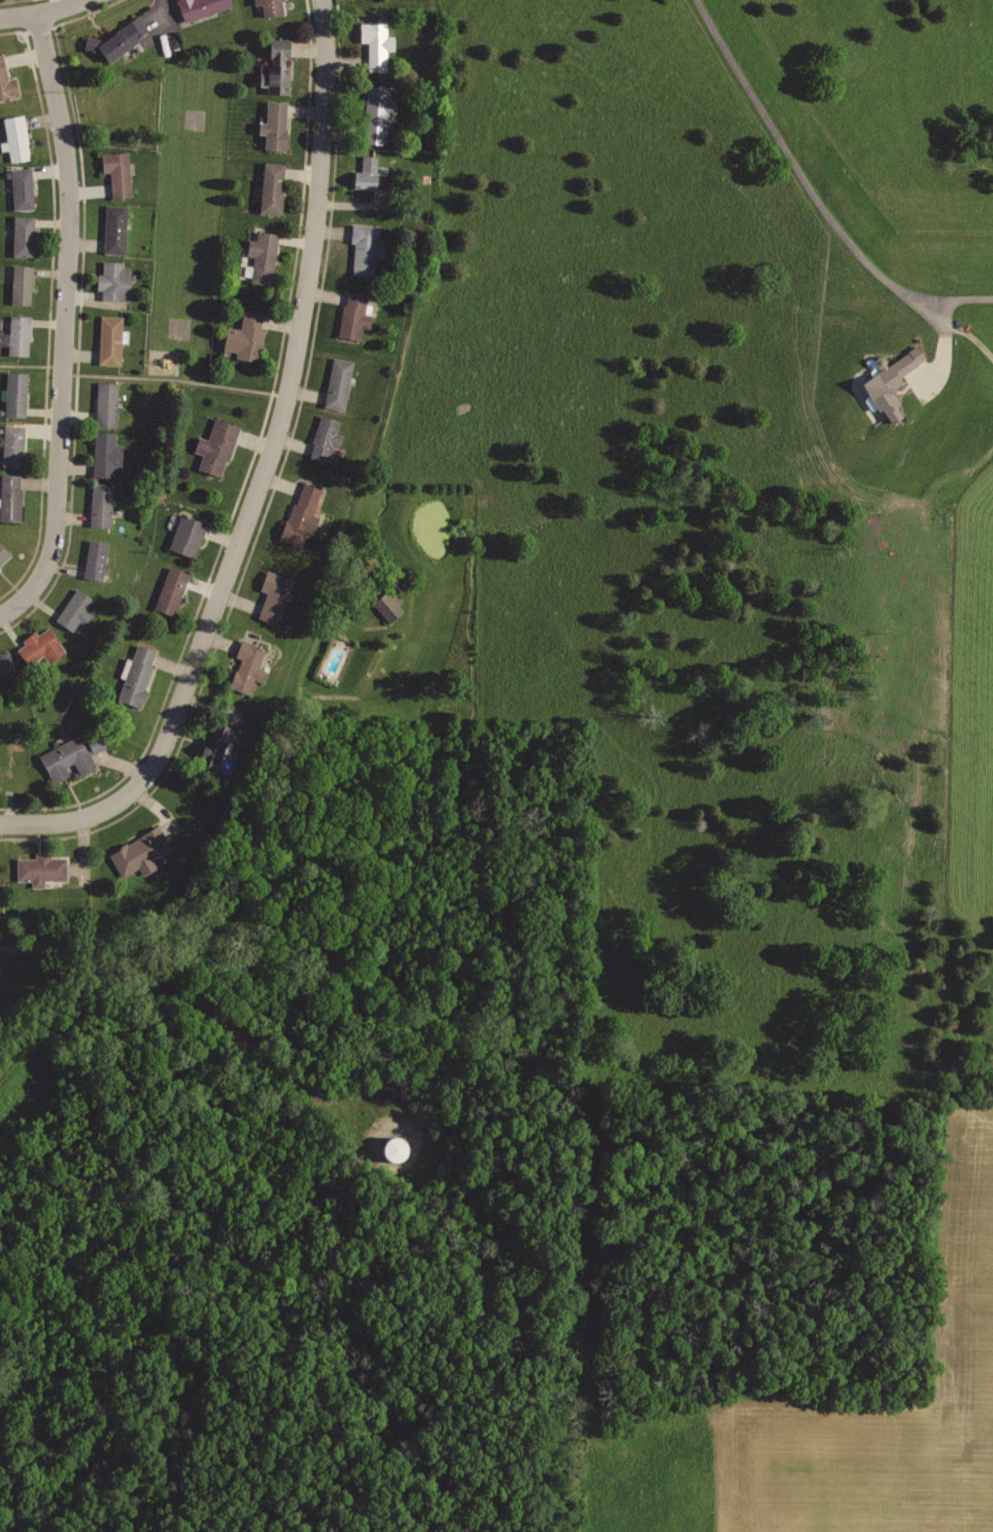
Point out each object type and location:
building: (274, 6)
building: (203, 7)
road: (35, 13)
building: (125, 36)
building: (93, 41)
building: (379, 44)
building: (280, 64)
building: (7, 78)
building: (380, 110)
park: (195, 116)
building: (277, 123)
building: (19, 136)
building: (120, 169)
building: (372, 172)
road: (799, 180)
building: (26, 186)
building: (274, 186)
building: (117, 228)
building: (26, 233)
building: (366, 250)
building: (266, 256)
building: (116, 278)
building: (24, 282)
building: (353, 314)
road: (66, 320)
building: (248, 332)
building: (21, 333)
building: (113, 337)
road: (32, 363)
road: (176, 376)
building: (341, 381)
building: (886, 385)
building: (18, 390)
building: (109, 401)
building: (325, 437)
building: (15, 444)
building: (218, 444)
building: (108, 449)
road: (263, 474)
building: (12, 495)
building: (102, 505)
building: (305, 512)
building: (190, 533)
building: (4, 550)
building: (97, 557)
building: (173, 590)
building: (277, 594)
building: (385, 605)
building: (77, 608)
building: (40, 647)
building: (7, 661)
building: (250, 665)
building: (139, 672)
building: (216, 743)
building: (70, 756)
building: (142, 849)
building: (43, 866)
road: (25, 947)
building: (397, 1149)
water tower: (398, 1149)

